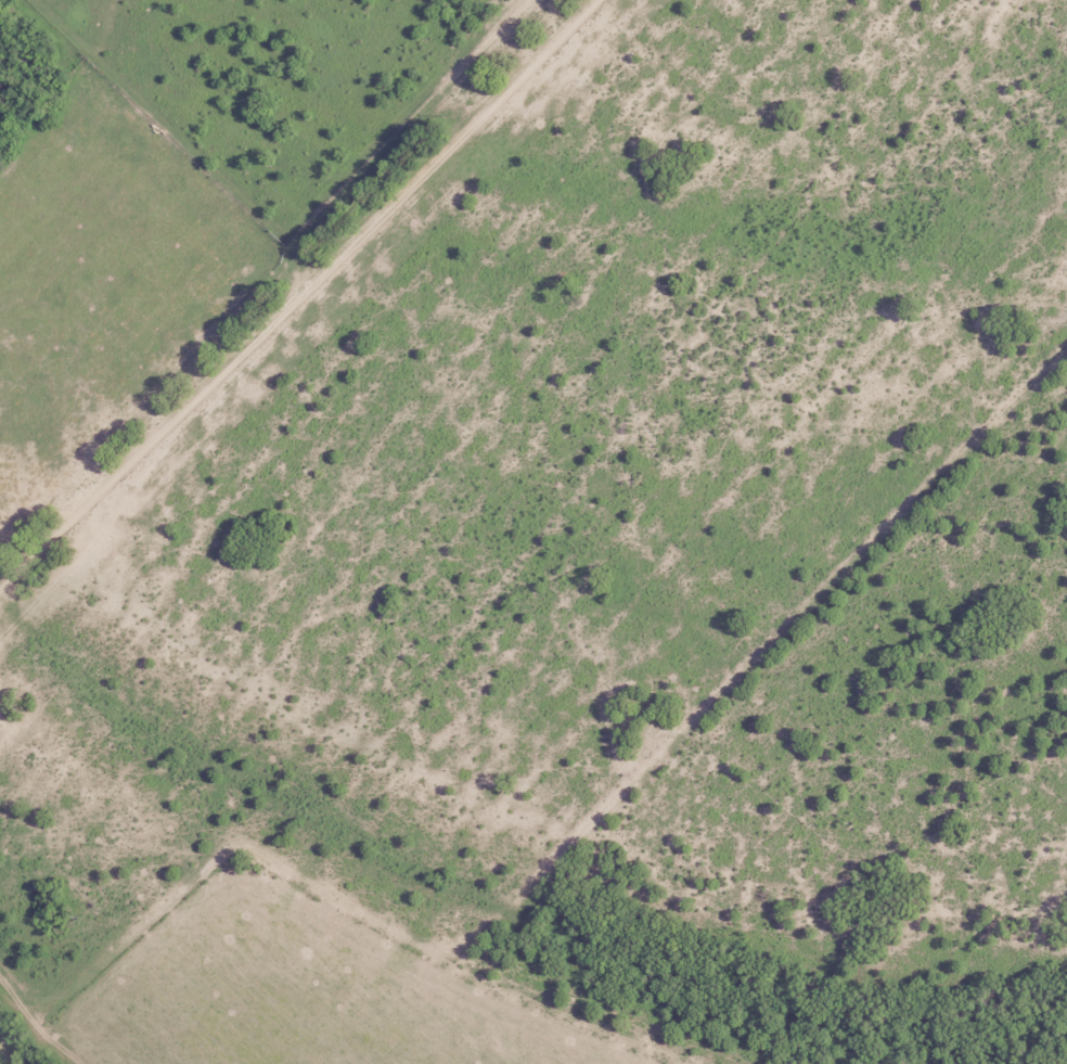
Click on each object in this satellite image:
road: (295, 302)

